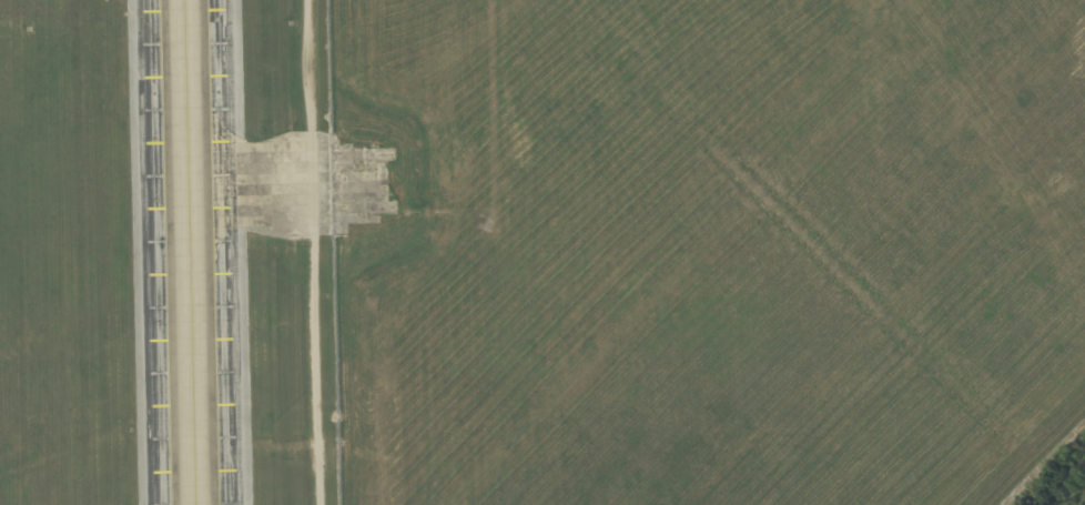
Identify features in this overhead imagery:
airport taxiway: (189, 252)
airport: (542, 252)

